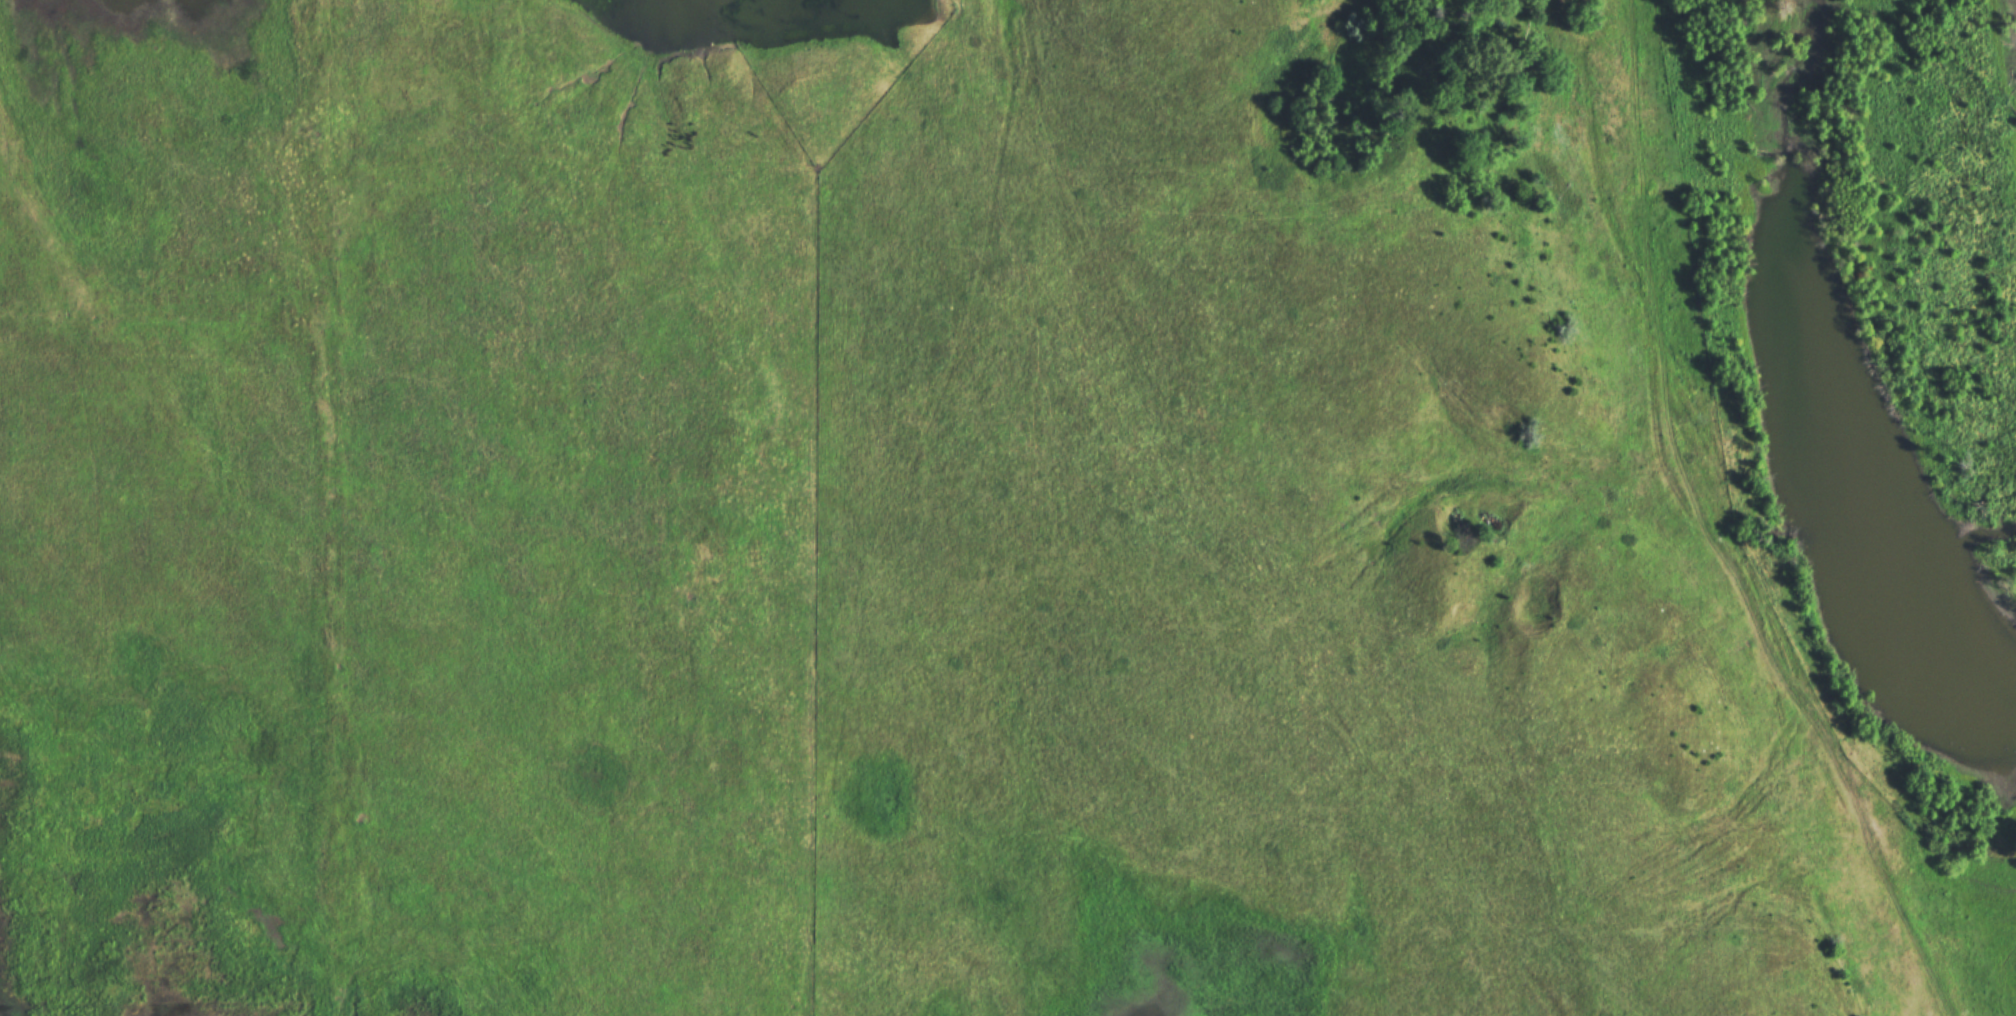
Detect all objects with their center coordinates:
road: (1637, 100)

